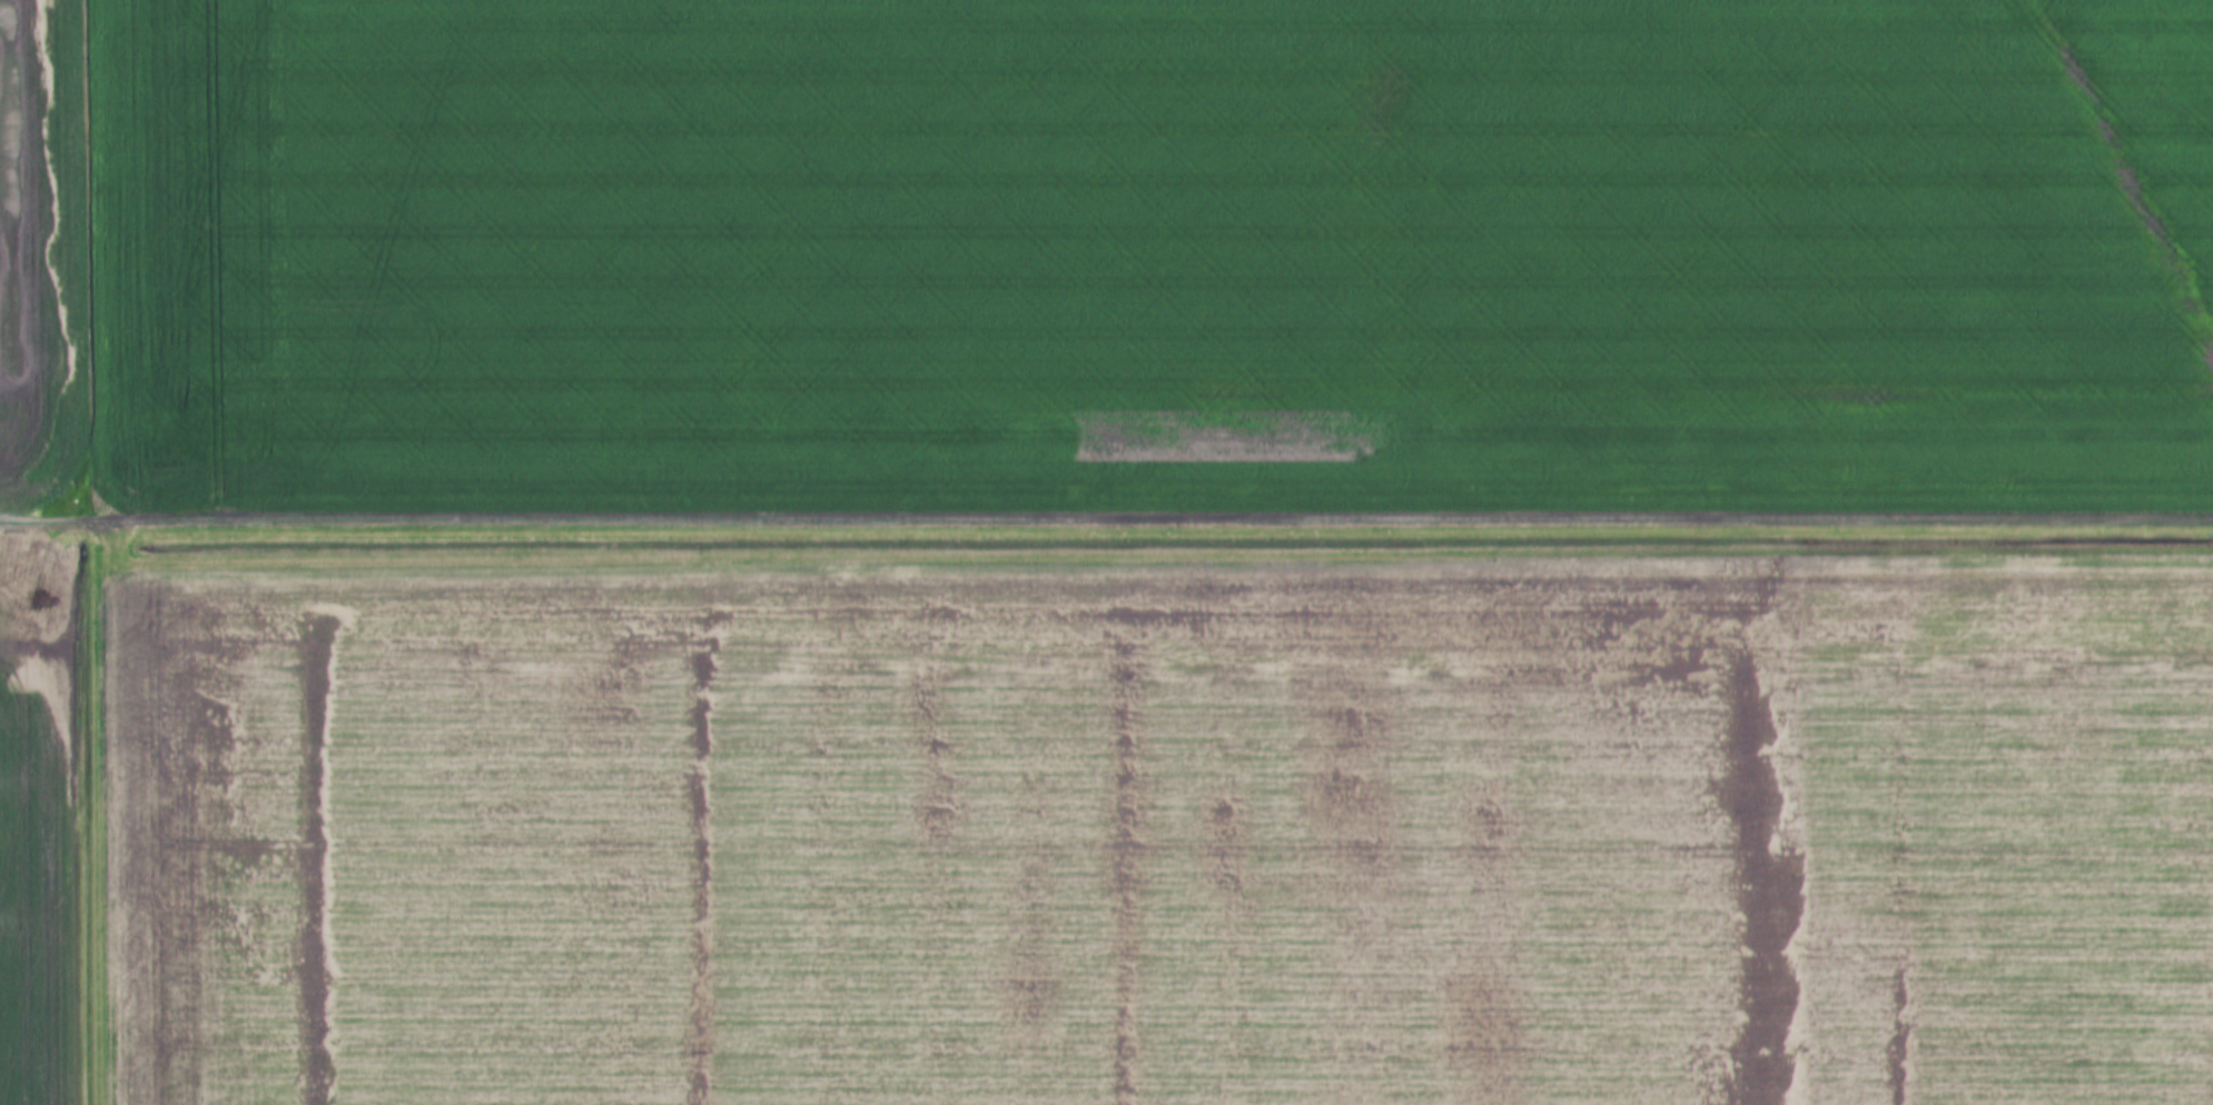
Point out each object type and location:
crop: (1156, 253)
road: (1106, 525)
crop: (42, 826)
crop: (1159, 826)

